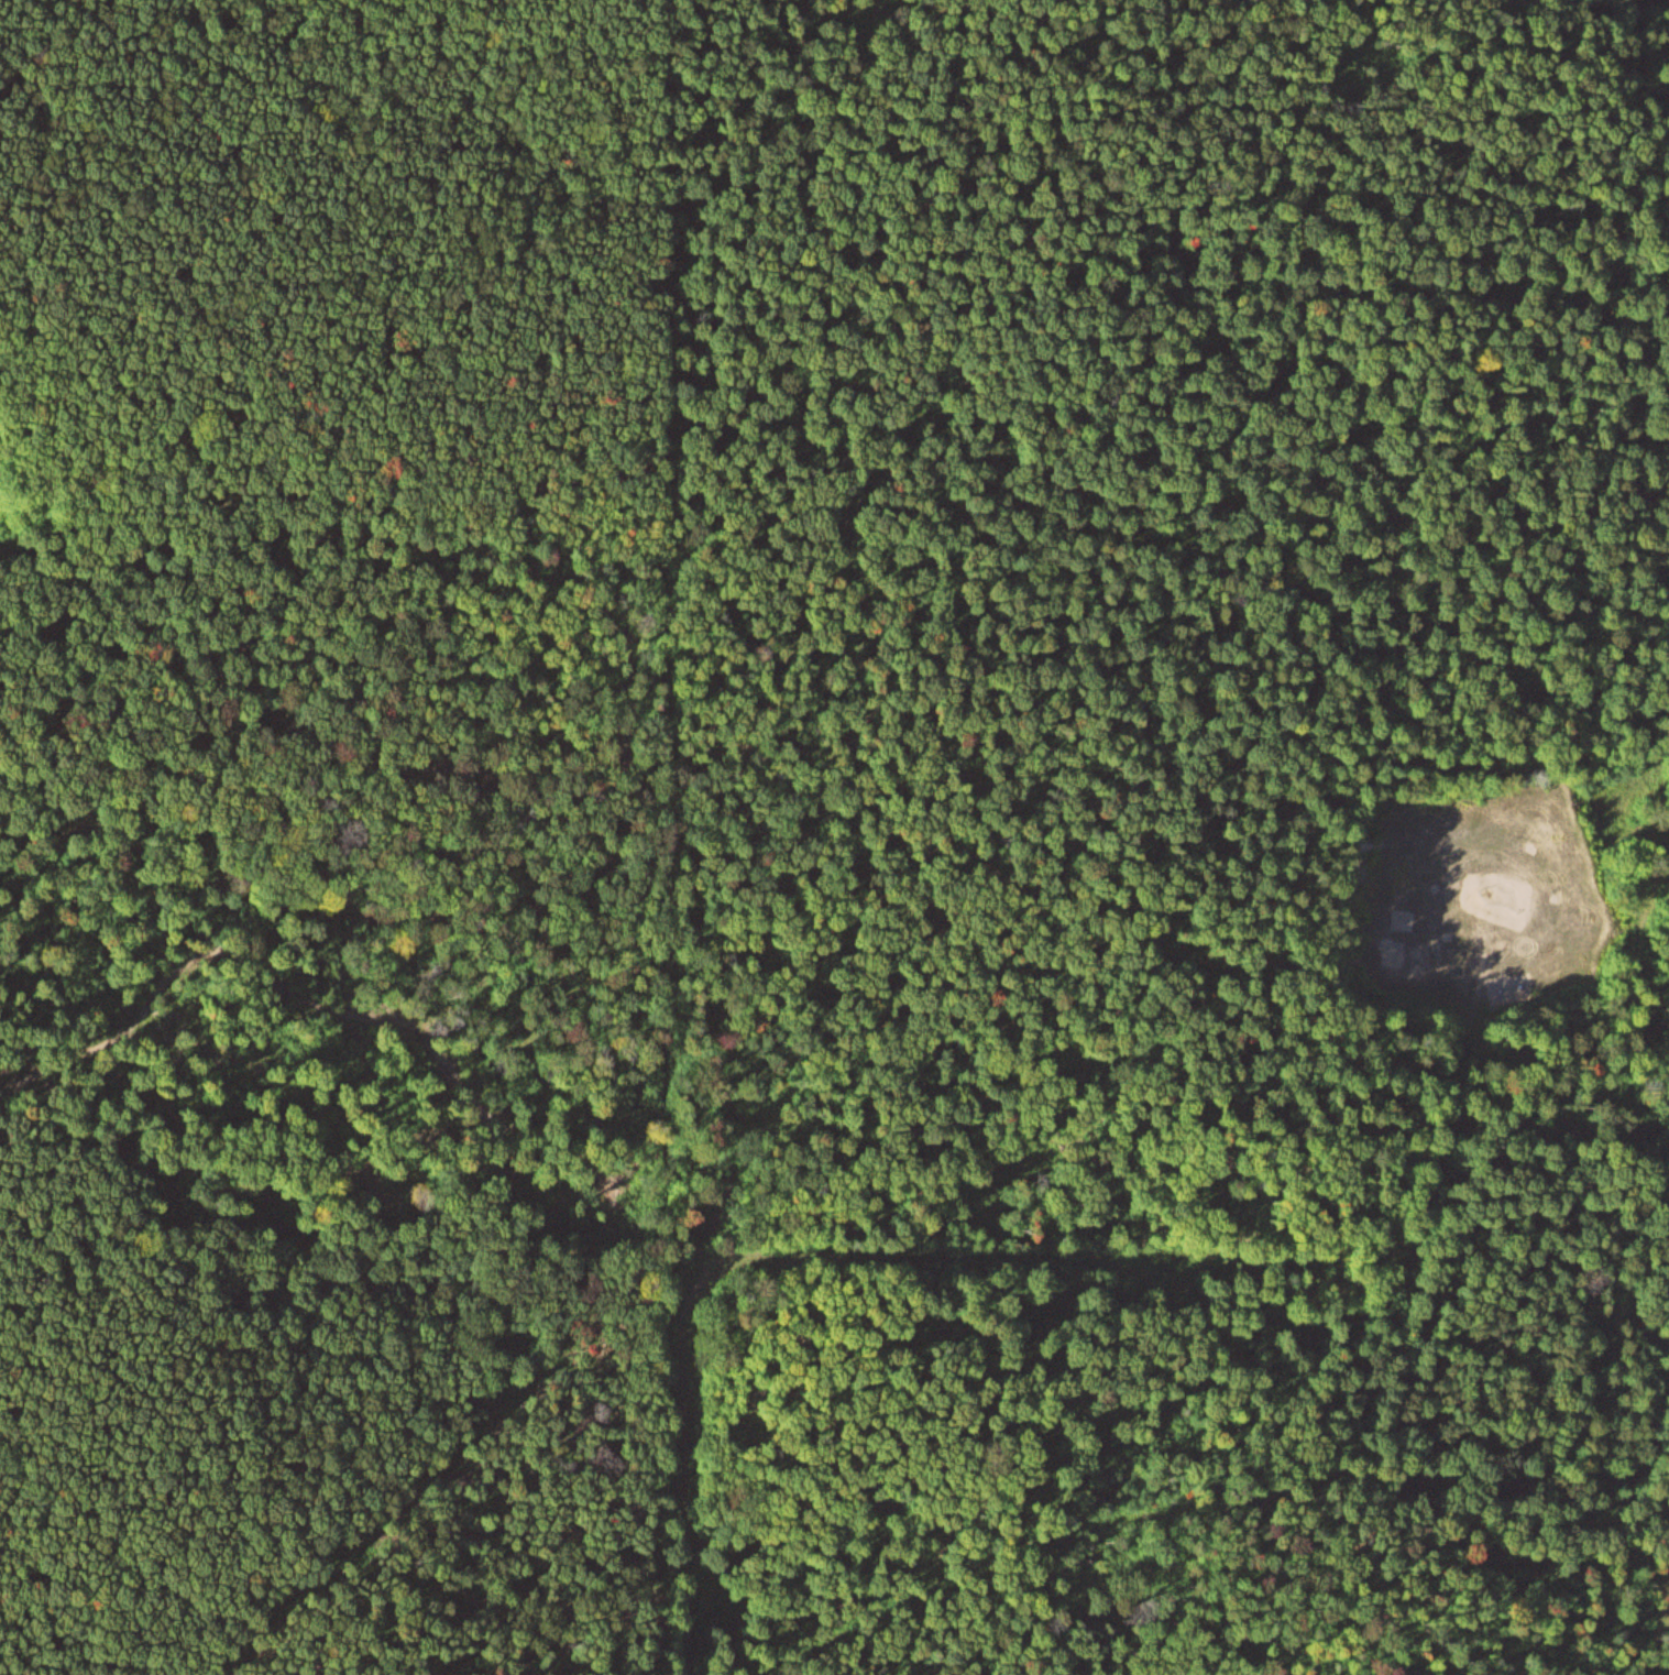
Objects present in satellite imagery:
road: (1659, 7)
road: (1645, 828)
road: (1577, 1519)

